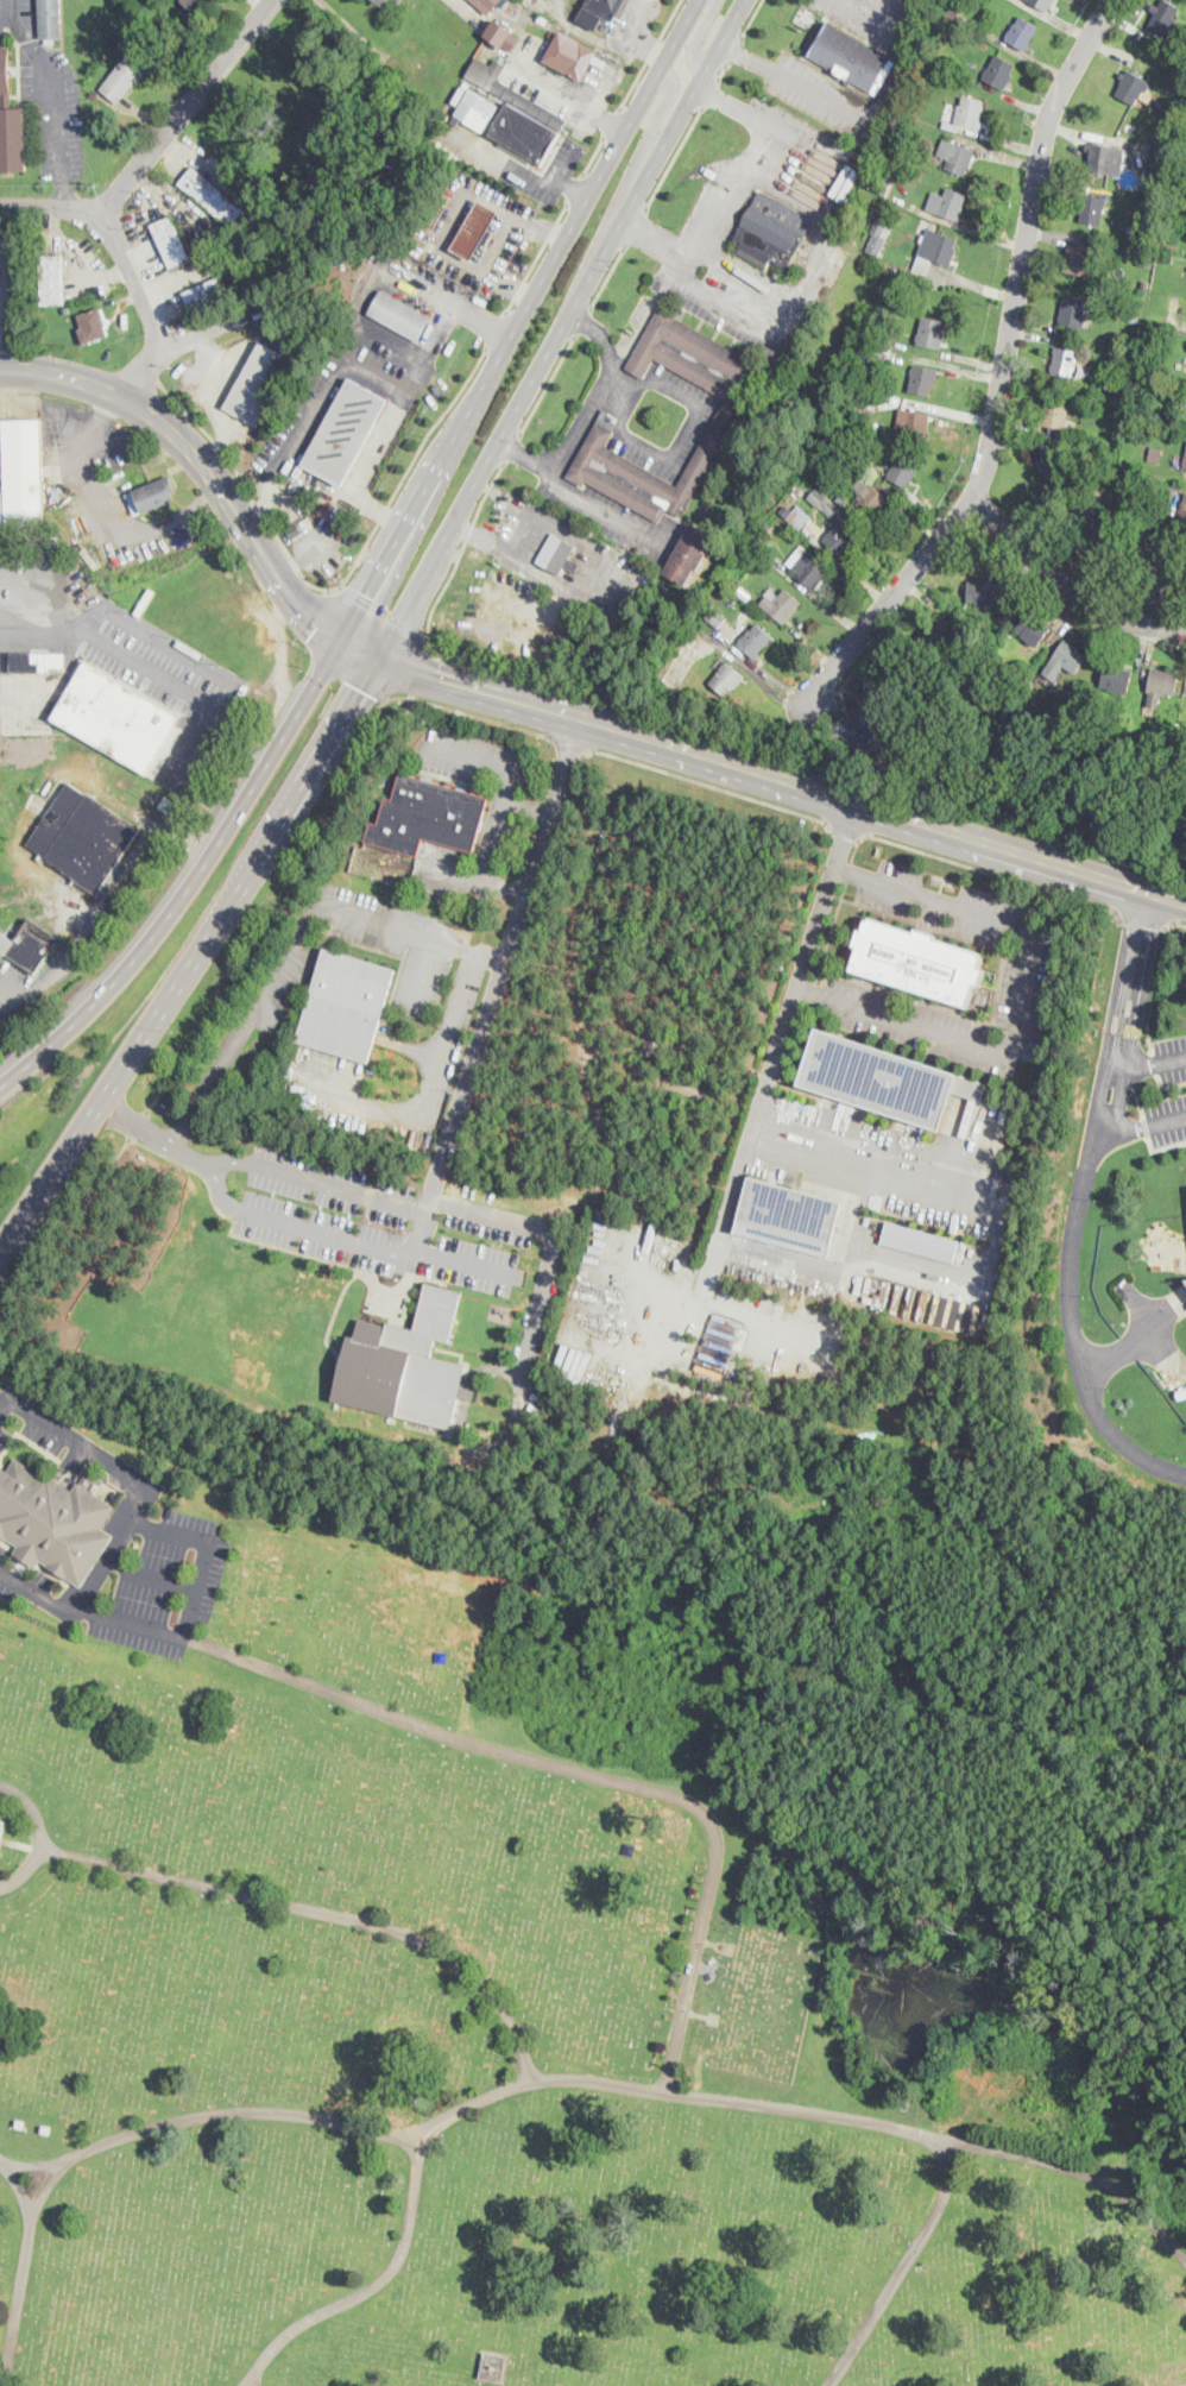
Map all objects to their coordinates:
building: (386, 2)
building: (196, 4)
building: (1042, 4)
building: (486, 5)
road: (15, 10)
building: (600, 14)
building: (542, 18)
road: (751, 18)
road: (870, 18)
building: (1163, 19)
road: (8, 20)
building: (50, 20)
building: (551, 32)
building: (1021, 33)
building: (501, 36)
road: (696, 37)
road: (734, 49)
road: (648, 53)
building: (572, 56)
building: (1174, 56)
road: (750, 57)
building: (849, 57)
road: (723, 69)
building: (938, 69)
building: (999, 73)
building: (127, 74)
building: (934, 76)
building: (1131, 86)
road: (709, 90)
building: (921, 93)
road: (563, 95)
road: (733, 103)
building: (475, 108)
road: (58, 109)
road: (184, 112)
building: (964, 113)
building: (518, 114)
building: (11, 120)
road: (611, 120)
road: (656, 120)
road: (875, 120)
road: (608, 121)
building: (433, 138)
building: (1184, 140)
building: (892, 149)
road: (593, 153)
road: (673, 156)
building: (955, 156)
building: (1105, 158)
building: (1155, 168)
road: (525, 174)
building: (881, 181)
building: (1149, 183)
road: (573, 187)
road: (575, 188)
building: (1180, 190)
building: (212, 196)
building: (946, 204)
road: (48, 207)
building: (1091, 208)
building: (434, 214)
road: (712, 220)
road: (633, 226)
building: (1130, 227)
building: (473, 231)
building: (771, 232)
building: (486, 237)
building: (877, 237)
building: (171, 243)
building: (1163, 248)
building: (1147, 250)
building: (933, 252)
road: (536, 254)
building: (1083, 260)
building: (1146, 260)
road: (607, 276)
building: (52, 279)
building: (1146, 284)
road: (582, 289)
building: (208, 294)
road: (450, 303)
road: (4, 309)
road: (147, 309)
building: (1072, 311)
building: (399, 315)
road: (582, 319)
building: (1133, 319)
road: (519, 320)
building: (97, 322)
road: (496, 326)
road: (2, 328)
building: (930, 332)
building: (885, 334)
building: (289, 342)
building: (298, 350)
building: (883, 352)
building: (1109, 352)
building: (1065, 364)
building: (1148, 369)
road: (1001, 376)
road: (67, 377)
building: (923, 379)
road: (548, 382)
building: (1111, 382)
building: (258, 383)
building: (863, 399)
building: (726, 413)
road: (586, 415)
building: (1054, 420)
road: (385, 422)
building: (913, 423)
building: (853, 424)
building: (345, 432)
road: (512, 445)
road: (675, 454)
building: (1100, 454)
building: (1155, 454)
building: (1185, 464)
building: (1052, 468)
building: (903, 471)
building: (23, 474)
building: (1176, 485)
building: (151, 496)
building: (910, 496)
building: (816, 497)
building: (841, 499)
building: (869, 501)
building: (1149, 505)
road: (603, 506)
building: (832, 508)
building: (1182, 509)
building: (1090, 515)
building: (797, 517)
road: (238, 518)
building: (1148, 518)
building: (305, 523)
building: (295, 531)
building: (840, 536)
building: (747, 550)
building: (556, 553)
building: (688, 555)
building: (807, 567)
park: (1150, 567)
road: (34, 575)
road: (1071, 580)
road: (339, 586)
building: (982, 592)
building: (743, 593)
traffic signals: (366, 594)
road: (24, 604)
building: (1008, 604)
building: (781, 605)
building: (627, 611)
road: (383, 612)
building: (715, 617)
road: (322, 618)
road: (400, 618)
road: (51, 619)
traffic signals: (316, 627)
building: (624, 628)
building: (1032, 629)
road: (40, 636)
building: (939, 637)
building: (755, 641)
road: (360, 649)
parking lot: (121, 650)
road: (736, 653)
building: (1065, 659)
building: (36, 662)
road: (411, 666)
road: (758, 671)
road: (348, 674)
traffic signals: (440, 678)
building: (725, 679)
building: (1116, 679)
road: (236, 686)
building: (1161, 686)
traffic signals: (360, 688)
road: (466, 712)
building: (115, 717)
road: (461, 720)
building: (865, 720)
road: (711, 731)
building: (898, 739)
road: (568, 742)
road: (166, 775)
road: (783, 778)
road: (711, 783)
road: (500, 802)
building: (166, 805)
road: (526, 805)
building: (428, 816)
road: (849, 830)
building: (83, 837)
road: (980, 868)
road: (191, 883)
road: (105, 896)
road: (332, 905)
road: (273, 913)
road: (1142, 919)
building: (29, 945)
road: (194, 955)
road: (490, 956)
building: (917, 962)
parking lot: (1029, 962)
road: (504, 963)
road: (421, 971)
road: (1156, 977)
road: (1023, 1002)
building: (346, 1005)
road: (449, 1034)
road: (778, 1040)
road: (1148, 1059)
building: (883, 1078)
road: (210, 1083)
road: (137, 1123)
road: (1138, 1126)
road: (157, 1137)
road: (1075, 1207)
road: (485, 1210)
building: (789, 1210)
parking lot: (381, 1221)
road: (69, 1227)
road: (419, 1236)
building: (919, 1240)
road: (995, 1251)
road: (469, 1264)
building: (1156, 1265)
building: (1185, 1278)
road: (538, 1320)
building: (723, 1333)
building: (405, 1364)
building: (711, 1366)
parking lot: (33, 1419)
road: (133, 1477)
building: (52, 1521)
road: (206, 1549)
road: (150, 1575)
parking lot: (140, 1581)
road: (87, 1612)
road: (580, 1770)
building: (5, 1837)
road: (40, 1838)
road: (322, 1910)
building: (730, 1947)
park: (548, 1973)
building: (713, 2019)
road: (652, 2089)
road: (208, 2114)
road: (36, 2164)
road: (1080, 2167)
road: (24, 2268)
building: (493, 2367)

